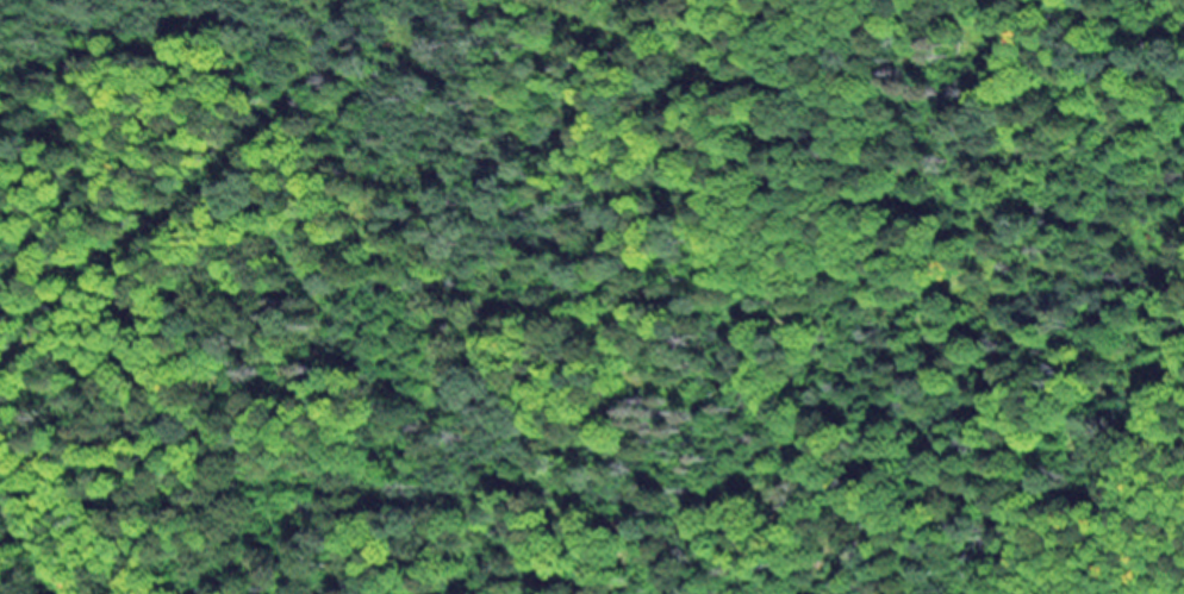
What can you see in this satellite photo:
road: (99, 269)

